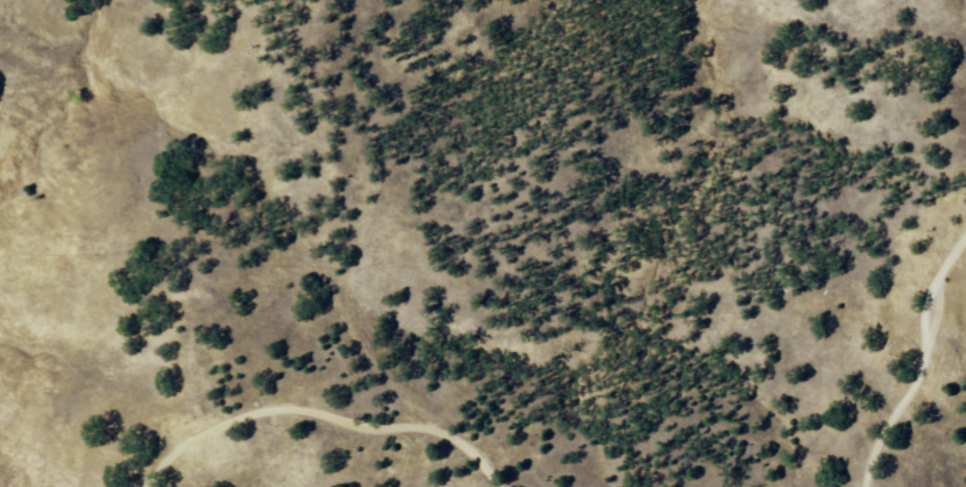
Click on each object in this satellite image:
road: (922, 355)
road: (335, 418)

